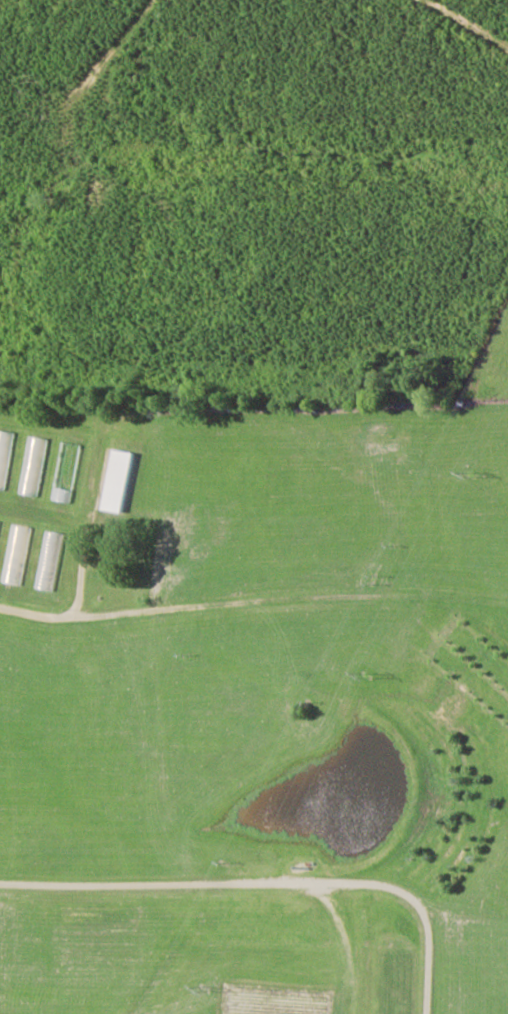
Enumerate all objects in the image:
building: (33, 465)
building: (66, 471)
building: (117, 480)
building: (49, 560)
building: (15, 563)
road: (253, 600)
road: (276, 880)

